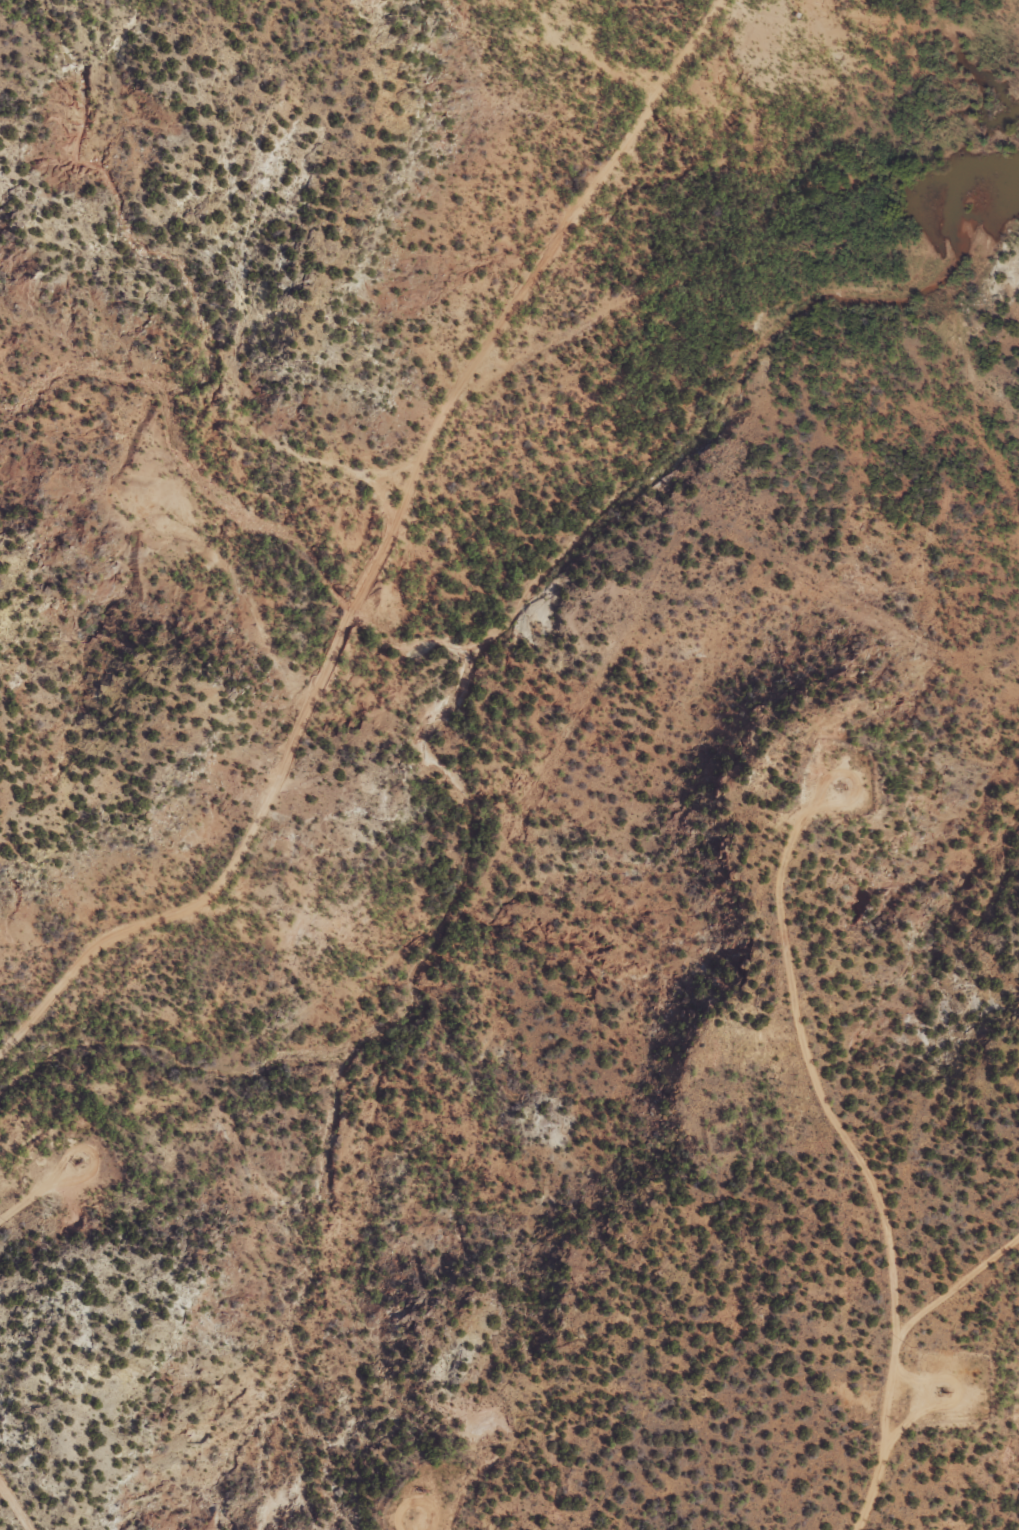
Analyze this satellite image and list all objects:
road: (853, 290)
road: (412, 572)
road: (808, 1198)
road: (917, 1357)
road: (0, 1529)

